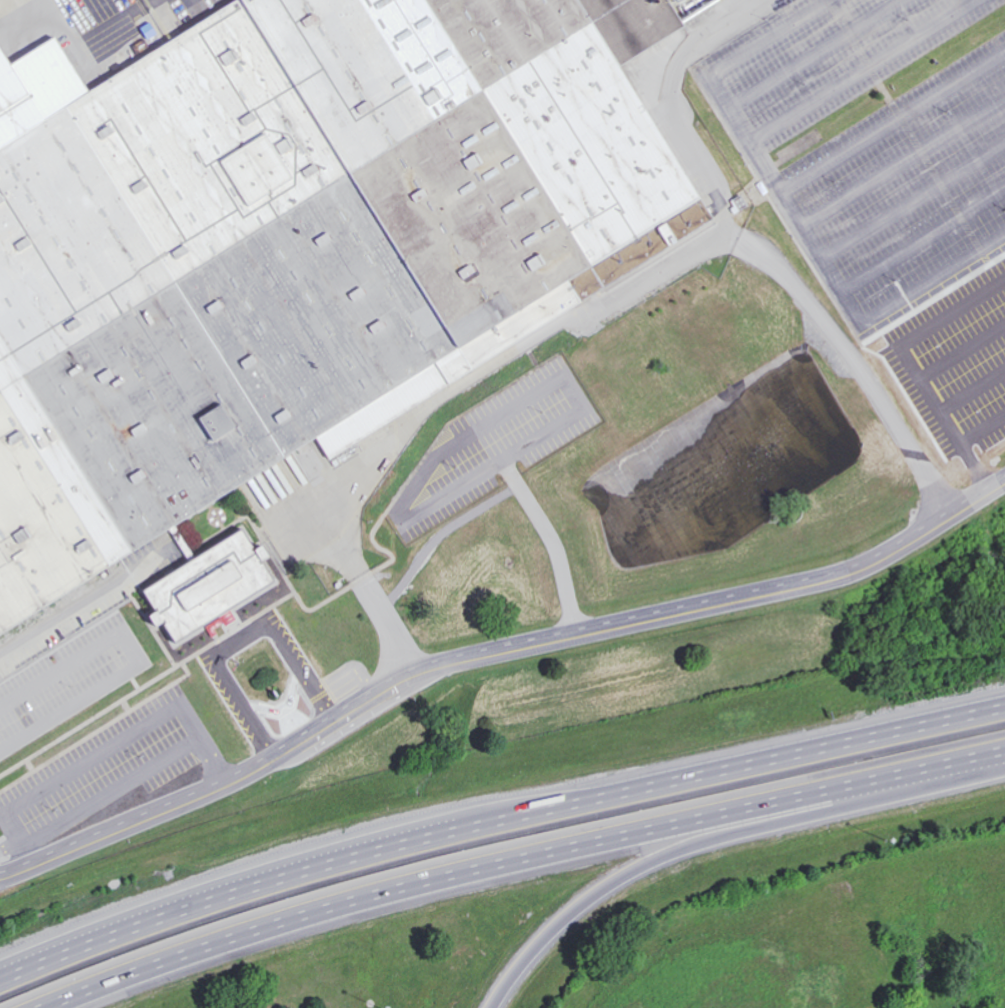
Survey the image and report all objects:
road: (813, 53)
road: (769, 129)
road: (912, 140)
parking lot: (877, 141)
road: (902, 161)
road: (765, 166)
road: (913, 198)
road: (795, 216)
road: (923, 238)
building: (291, 250)
road: (623, 289)
road: (481, 428)
road: (475, 508)
road: (82, 606)
road: (241, 642)
road: (493, 654)
road: (24, 799)
road: (495, 813)
road: (354, 843)
road: (707, 844)
road: (537, 866)

